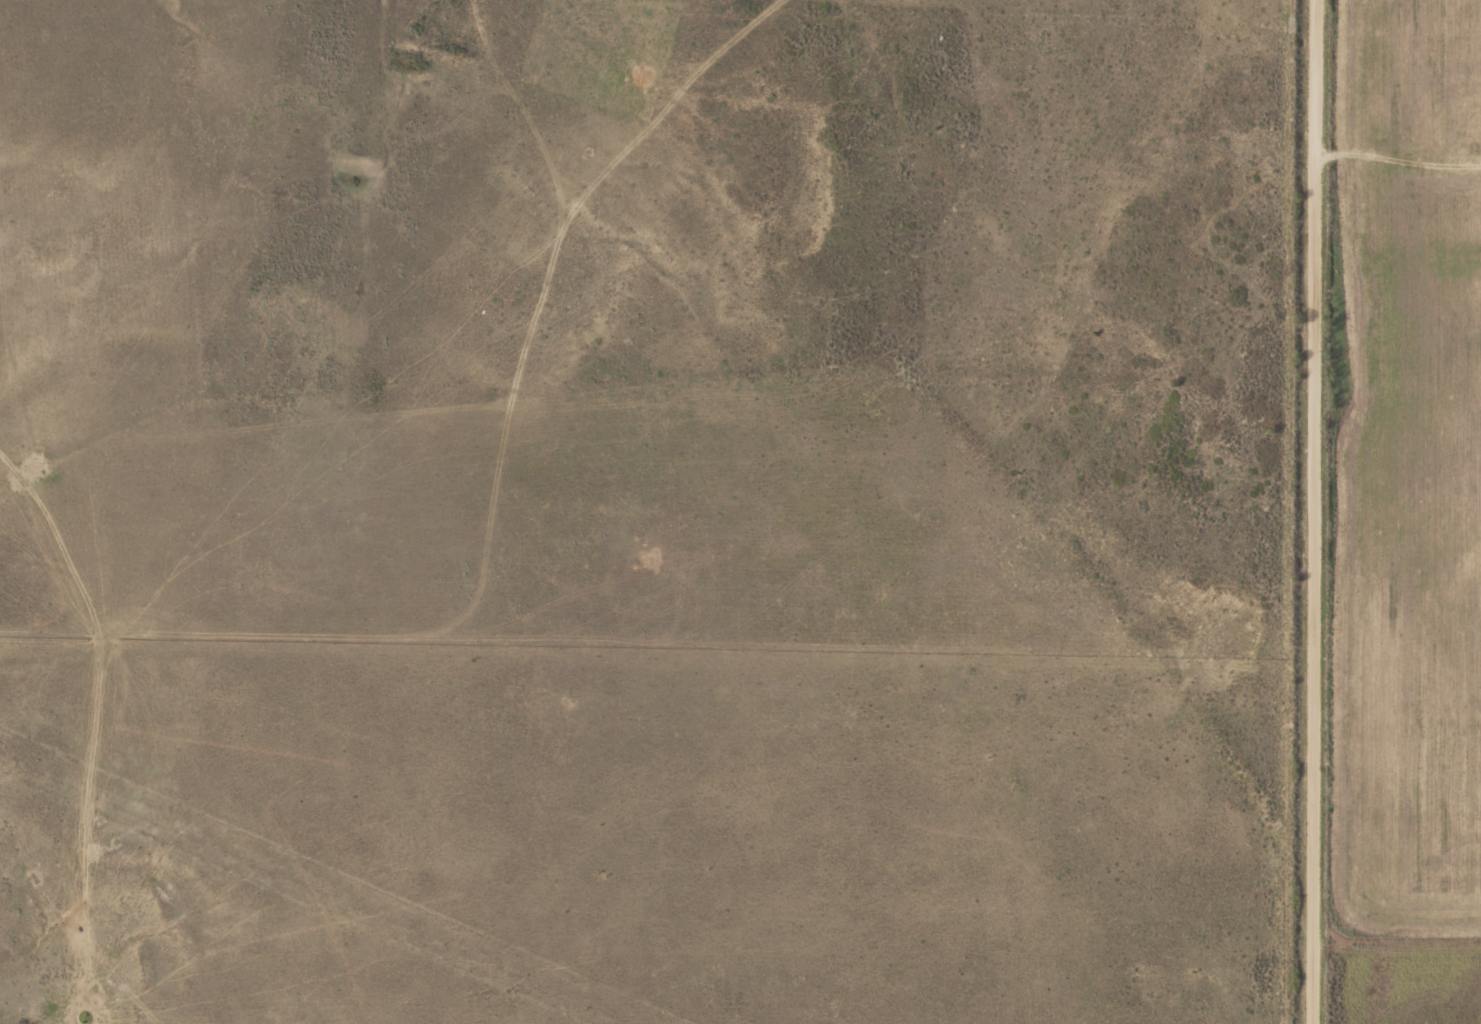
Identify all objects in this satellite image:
road: (1319, 511)

